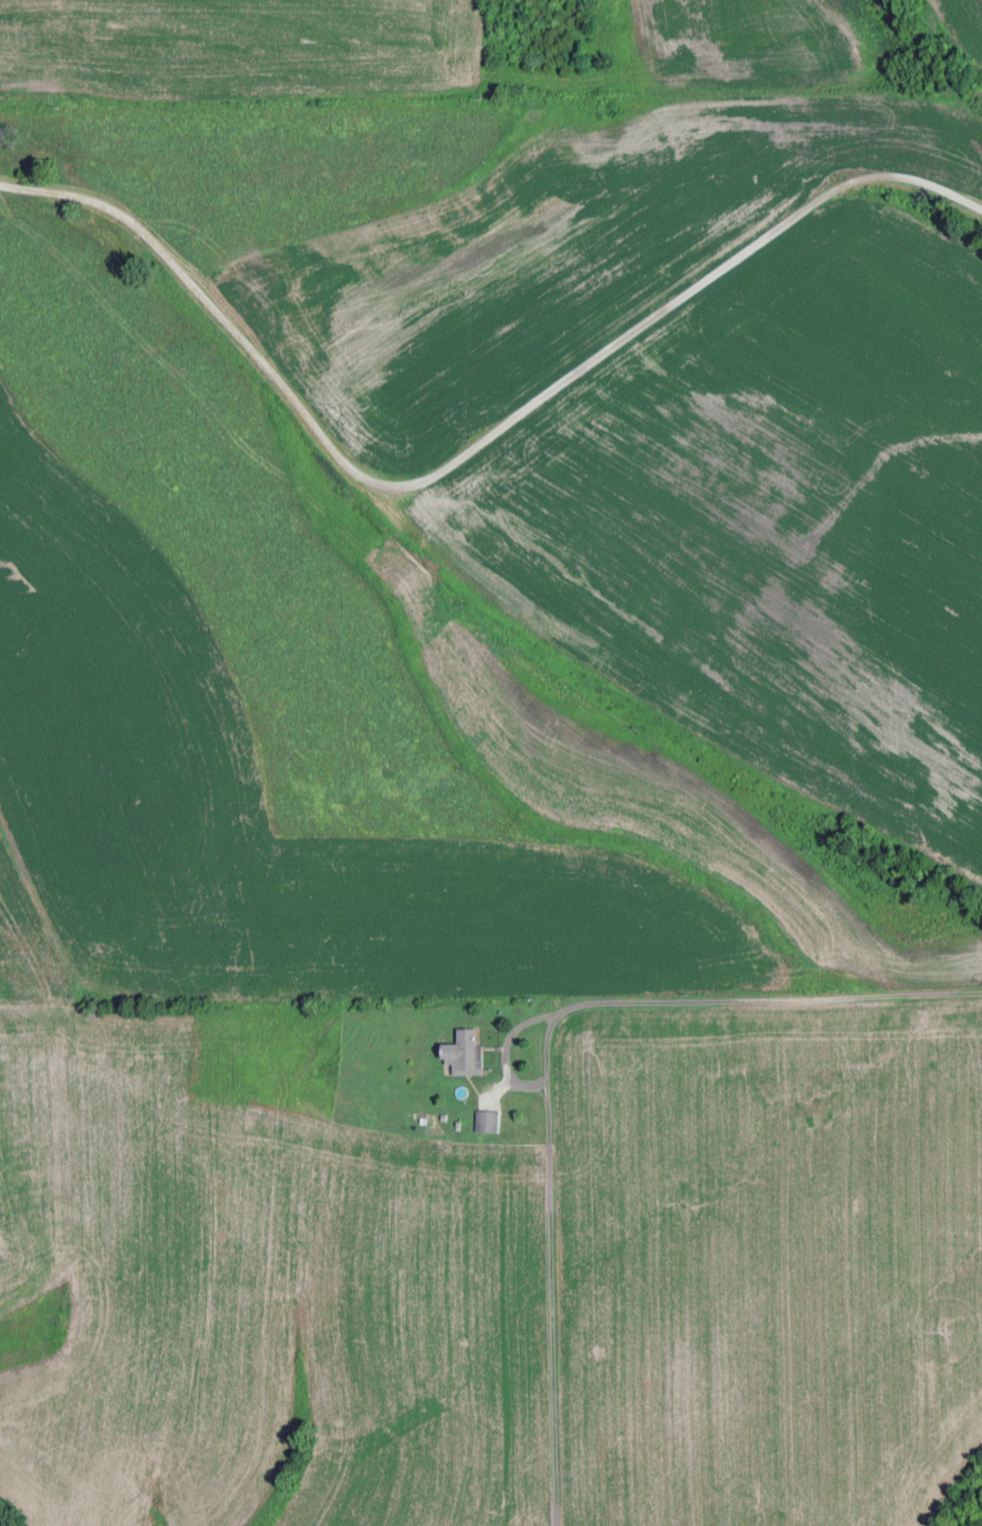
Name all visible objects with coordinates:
road: (424, 438)
road: (729, 984)
building: (463, 1053)
building: (487, 1125)
road: (544, 1255)

